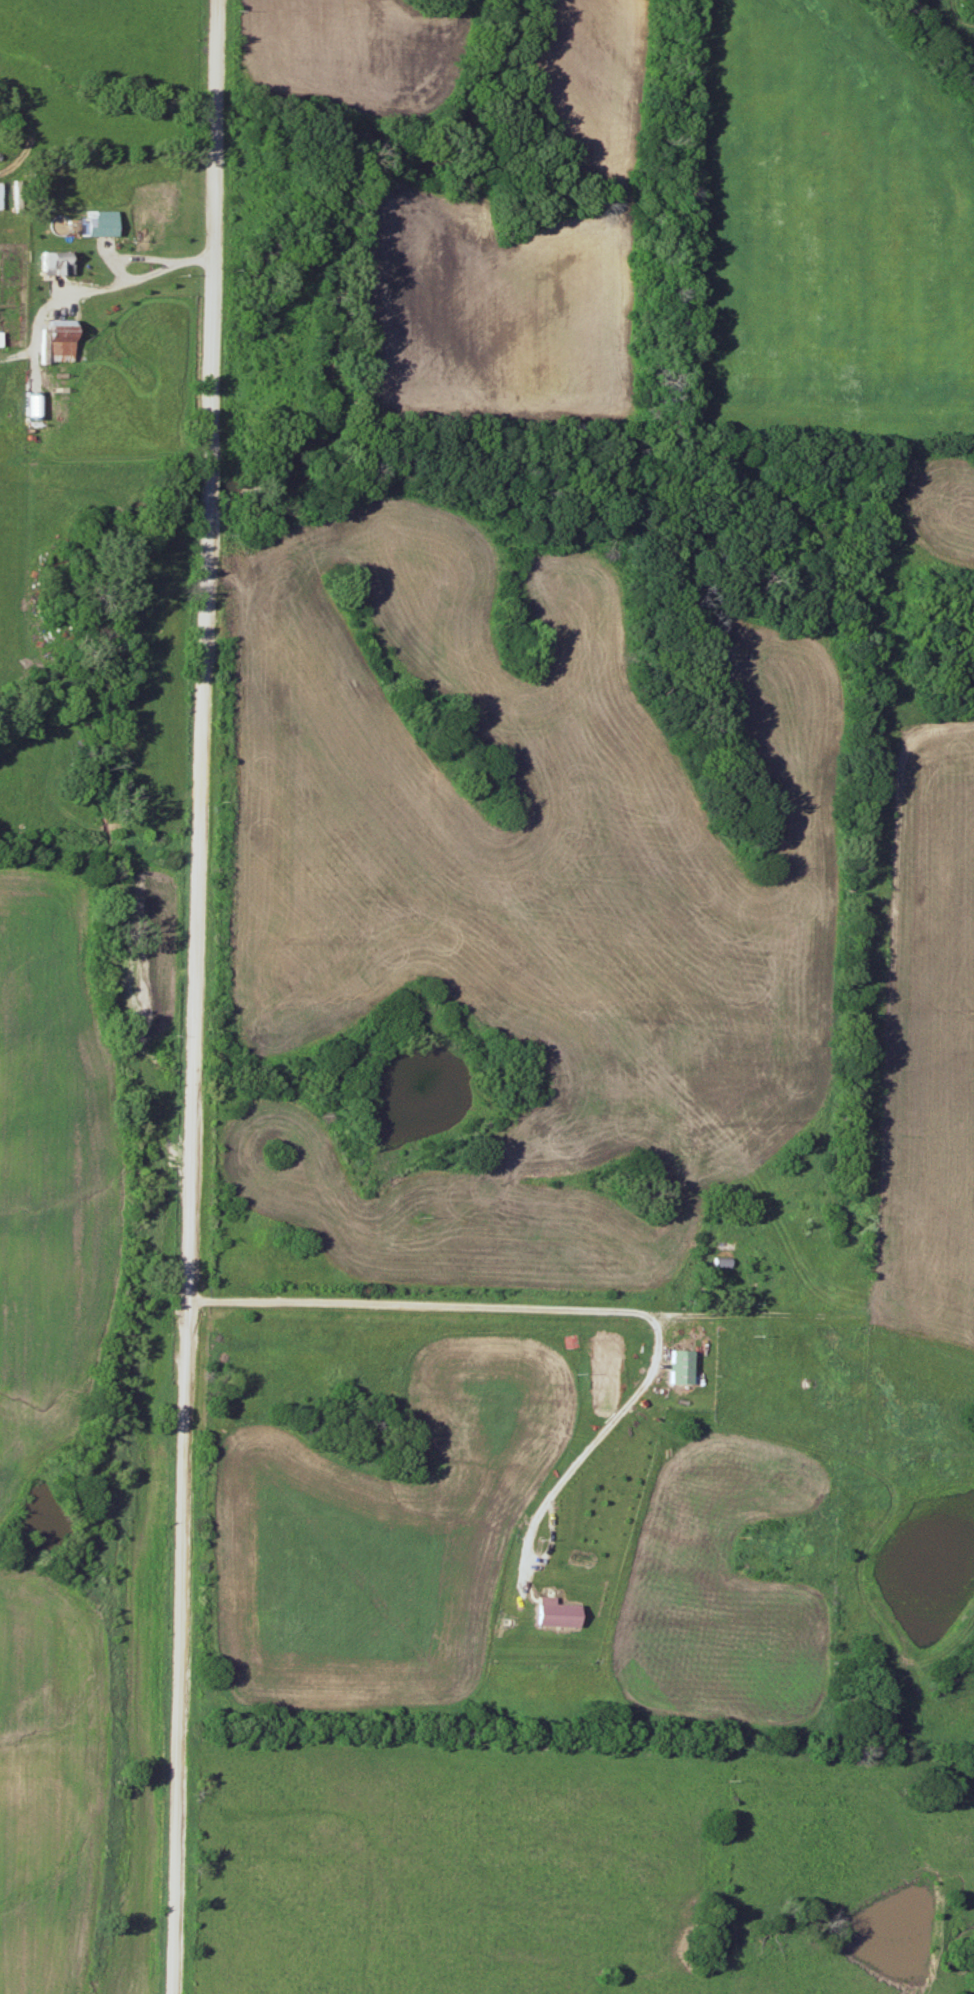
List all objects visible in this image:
building: (147, 226)
building: (100, 227)
road: (118, 257)
road: (193, 260)
road: (58, 294)
building: (60, 340)
road: (195, 996)
building: (719, 1262)
road: (466, 1306)
building: (680, 1366)
road: (596, 1434)
building: (558, 1613)

